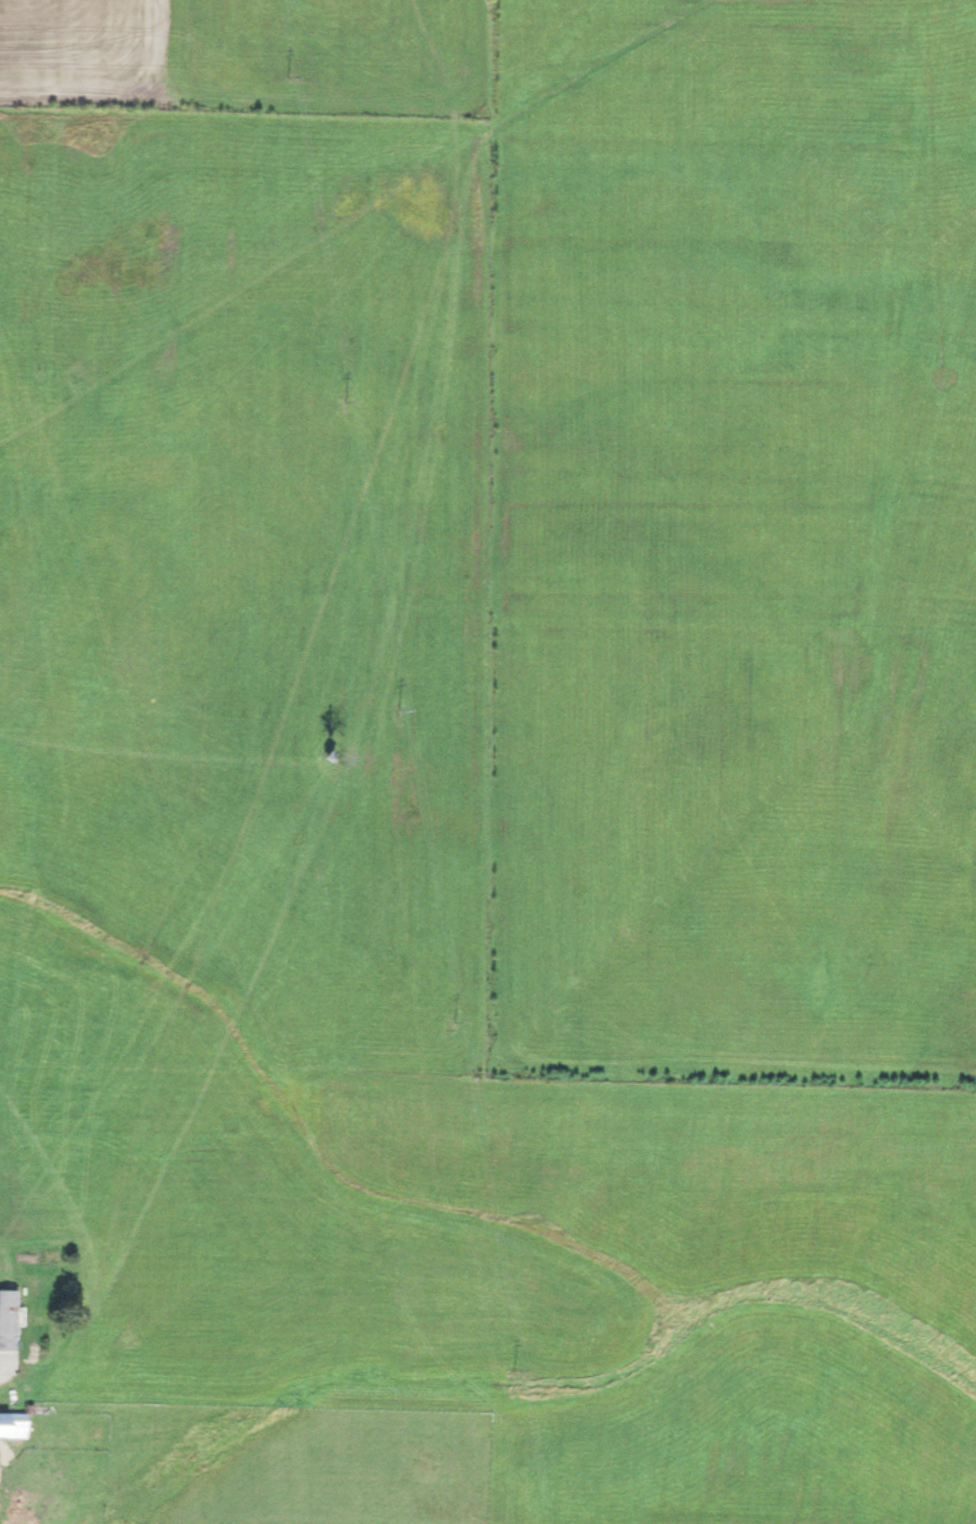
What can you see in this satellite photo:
building: (4, 1317)
building: (10, 1422)

